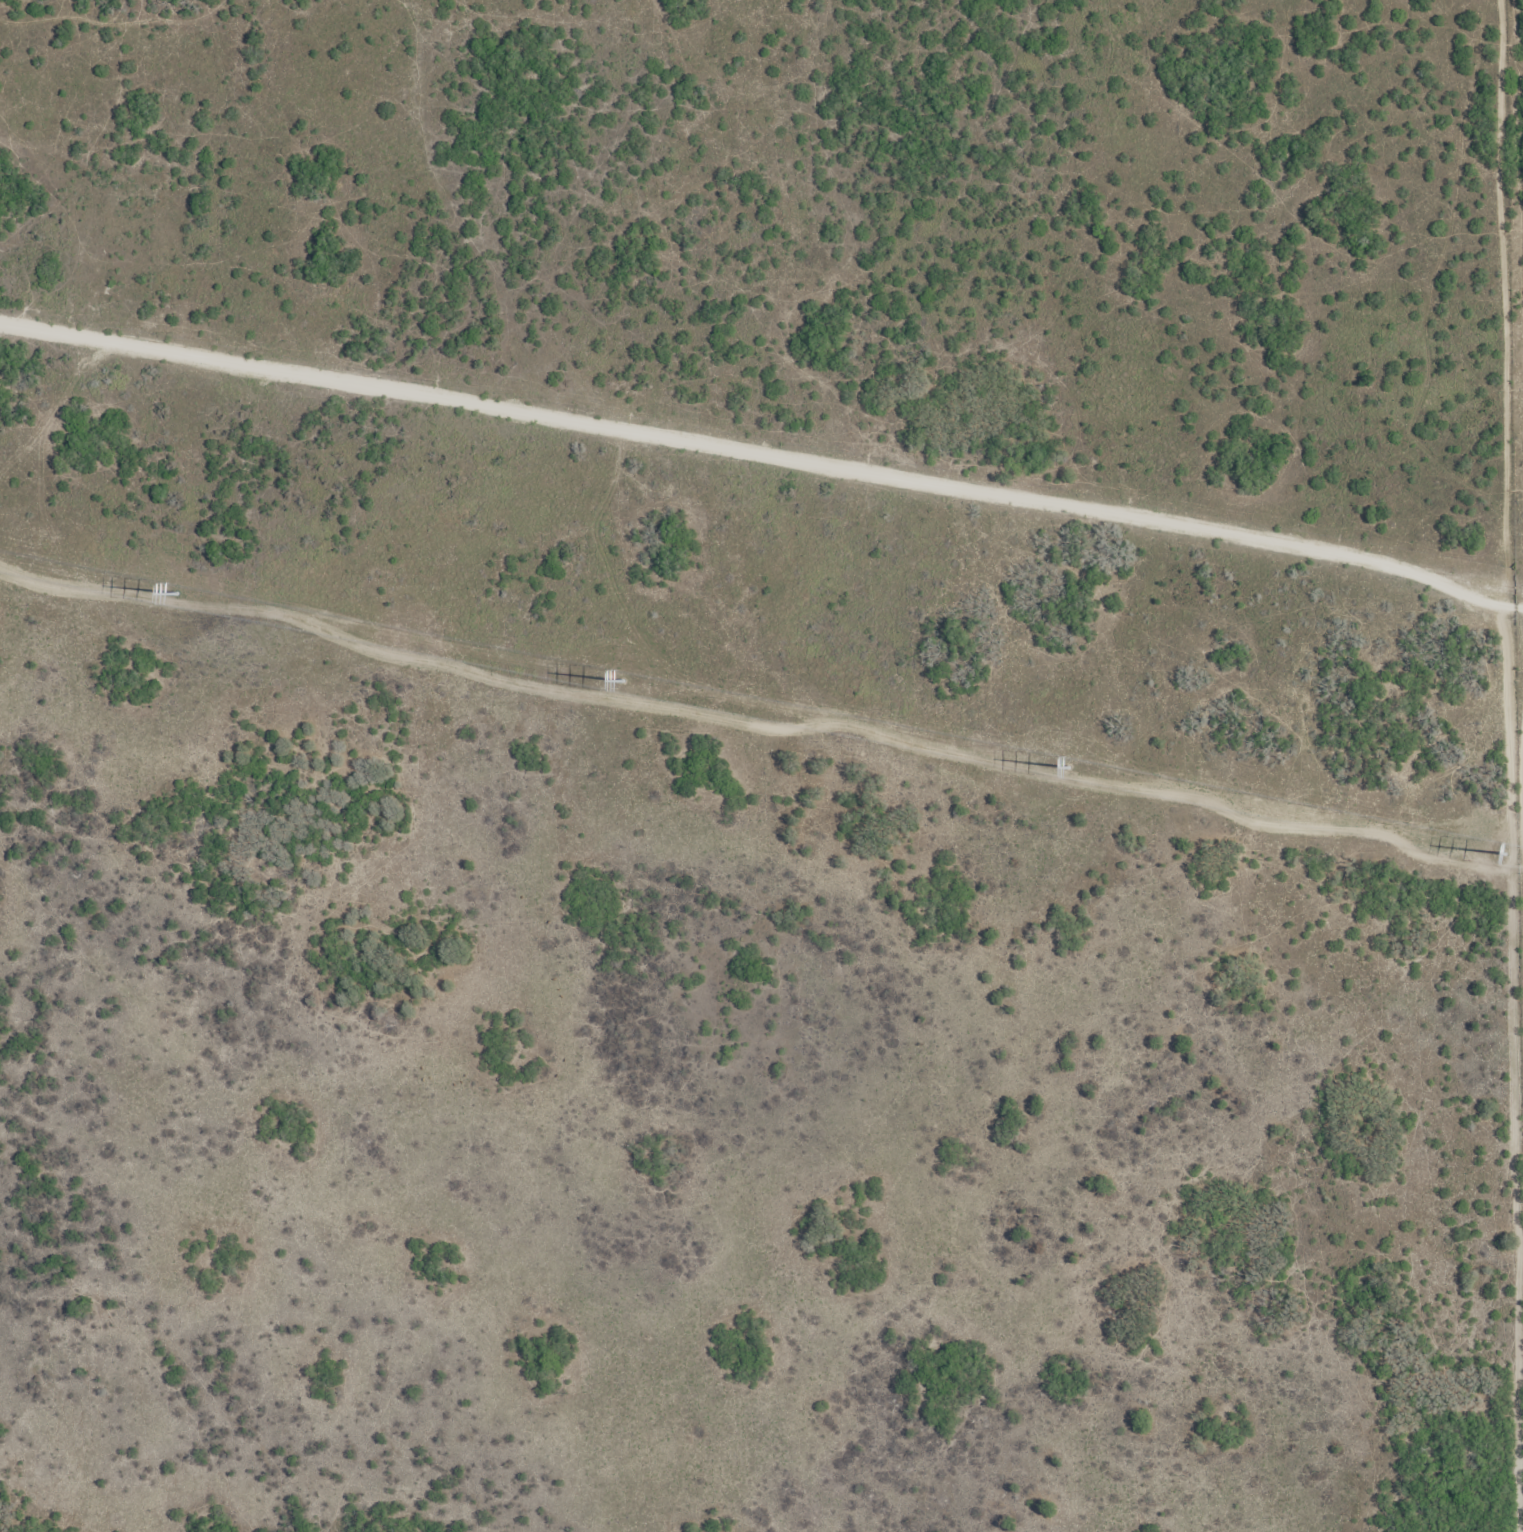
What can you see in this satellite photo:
road: (761, 448)
power tower: (186, 598)
power tower: (622, 683)
power tower: (1062, 771)
power tower: (1503, 856)

